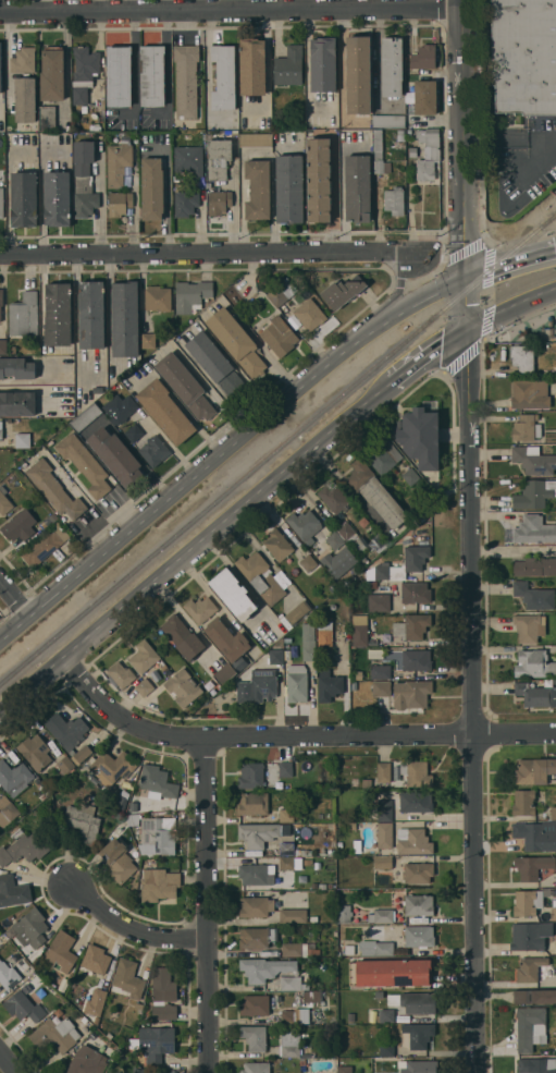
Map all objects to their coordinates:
road: (299, 4)
road: (307, 4)
road: (231, 11)
building: (423, 56)
building: (528, 56)
building: (23, 60)
building: (323, 64)
building: (288, 65)
building: (0, 66)
building: (252, 66)
road: (267, 66)
building: (391, 66)
road: (133, 68)
road: (166, 68)
building: (84, 72)
building: (52, 75)
building: (119, 75)
building: (152, 75)
building: (358, 75)
building: (223, 77)
building: (186, 81)
building: (425, 97)
building: (25, 99)
building: (84, 108)
building: (47, 118)
building: (388, 121)
building: (96, 124)
building: (400, 134)
building: (256, 139)
road: (510, 139)
building: (412, 151)
building: (379, 154)
building: (428, 154)
building: (218, 158)
building: (188, 159)
building: (118, 160)
building: (83, 164)
building: (318, 180)
building: (358, 187)
building: (152, 188)
building: (289, 188)
building: (258, 190)
building: (57, 198)
road: (8, 199)
building: (23, 199)
road: (41, 200)
road: (100, 200)
building: (394, 200)
building: (1, 203)
building: (119, 203)
road: (134, 203)
building: (185, 203)
building: (219, 203)
building: (85, 204)
road: (233, 205)
road: (209, 252)
road: (510, 263)
traffic signals: (466, 279)
building: (287, 288)
road: (396, 289)
building: (342, 291)
building: (191, 295)
building: (277, 296)
building: (158, 297)
building: (1, 301)
road: (510, 310)
building: (24, 314)
building: (90, 314)
building: (309, 314)
building: (58, 315)
building: (124, 318)
park: (532, 329)
traffic signals: (467, 333)
building: (279, 336)
building: (148, 341)
building: (236, 341)
building: (3, 346)
road: (427, 355)
building: (522, 357)
building: (217, 365)
building: (16, 368)
road: (36, 381)
building: (185, 386)
building: (97, 390)
building: (530, 394)
building: (17, 403)
building: (120, 409)
building: (165, 411)
building: (86, 417)
building: (89, 428)
building: (526, 428)
building: (1, 429)
building: (134, 432)
building: (420, 435)
building: (23, 440)
road: (171, 447)
railway: (277, 447)
road: (225, 449)
building: (153, 451)
building: (382, 455)
building: (115, 456)
building: (533, 460)
building: (84, 464)
building: (410, 476)
building: (54, 489)
building: (375, 493)
building: (534, 495)
building: (333, 497)
building: (3, 501)
building: (50, 520)
building: (304, 523)
building: (18, 527)
building: (533, 529)
building: (347, 533)
road: (471, 536)
building: (334, 540)
building: (45, 545)
road: (194, 545)
building: (277, 545)
building: (338, 561)
building: (384, 562)
building: (308, 563)
building: (413, 564)
building: (534, 566)
building: (263, 577)
building: (372, 584)
building: (415, 592)
building: (233, 594)
building: (534, 596)
road: (14, 598)
building: (379, 602)
building: (200, 609)
building: (297, 612)
building: (311, 614)
building: (285, 621)
building: (412, 626)
building: (529, 627)
building: (359, 630)
building: (324, 635)
building: (182, 636)
building: (230, 641)
building: (308, 642)
building: (287, 654)
building: (144, 656)
building: (276, 657)
building: (416, 659)
building: (533, 663)
building: (380, 671)
building: (224, 673)
building: (120, 674)
building: (296, 683)
building: (329, 685)
building: (257, 686)
building: (145, 687)
building: (183, 687)
building: (381, 688)
building: (410, 694)
building: (533, 694)
building: (70, 734)
road: (294, 739)
building: (35, 752)
building: (65, 765)
building: (112, 765)
building: (285, 769)
building: (534, 770)
building: (383, 772)
building: (416, 773)
building: (251, 776)
building: (14, 777)
building: (157, 782)
building: (366, 782)
building: (41, 796)
building: (416, 802)
building: (523, 802)
building: (251, 803)
building: (143, 806)
building: (8, 807)
building: (384, 810)
building: (553, 813)
building: (285, 815)
building: (131, 819)
building: (84, 822)
building: (350, 826)
building: (118, 830)
building: (158, 834)
building: (257, 834)
building: (384, 836)
building: (535, 836)
building: (330, 837)
building: (412, 841)
building: (23, 846)
building: (286, 849)
building: (300, 851)
building: (345, 852)
building: (118, 859)
building: (306, 861)
building: (382, 862)
building: (289, 863)
building: (532, 866)
building: (316, 868)
building: (417, 873)
building: (255, 875)
building: (158, 883)
building: (321, 886)
building: (12, 891)
building: (529, 901)
building: (418, 904)
road: (211, 906)
building: (256, 906)
building: (344, 913)
building: (554, 913)
building: (293, 915)
building: (381, 916)
building: (313, 918)
building: (355, 919)
road: (137, 925)
building: (30, 928)
building: (419, 936)
building: (530, 936)
building: (2, 937)
building: (257, 937)
building: (375, 948)
building: (299, 949)
building: (348, 950)
building: (60, 951)
building: (96, 960)
building: (264, 968)
building: (529, 968)
building: (390, 972)
building: (8, 975)
building: (127, 979)
building: (291, 983)
building: (305, 986)
building: (163, 995)
building: (379, 995)
building: (312, 996)
building: (534, 996)
building: (413, 1002)
building: (95, 1003)
building: (255, 1004)
building: (139, 1005)
building: (23, 1007)
building: (58, 1012)
building: (385, 1015)
building: (294, 1016)
building: (530, 1027)
building: (55, 1034)
building: (417, 1035)
building: (254, 1037)
building: (155, 1042)
building: (289, 1044)
building: (386, 1049)
building: (356, 1052)
building: (87, 1061)
road: (8, 1063)
building: (301, 1064)
building: (536, 1065)
building: (420, 1066)
building: (255, 1068)
building: (345, 1069)
building: (137, 1071)
building: (109, 1072)
building: (121, 1072)

